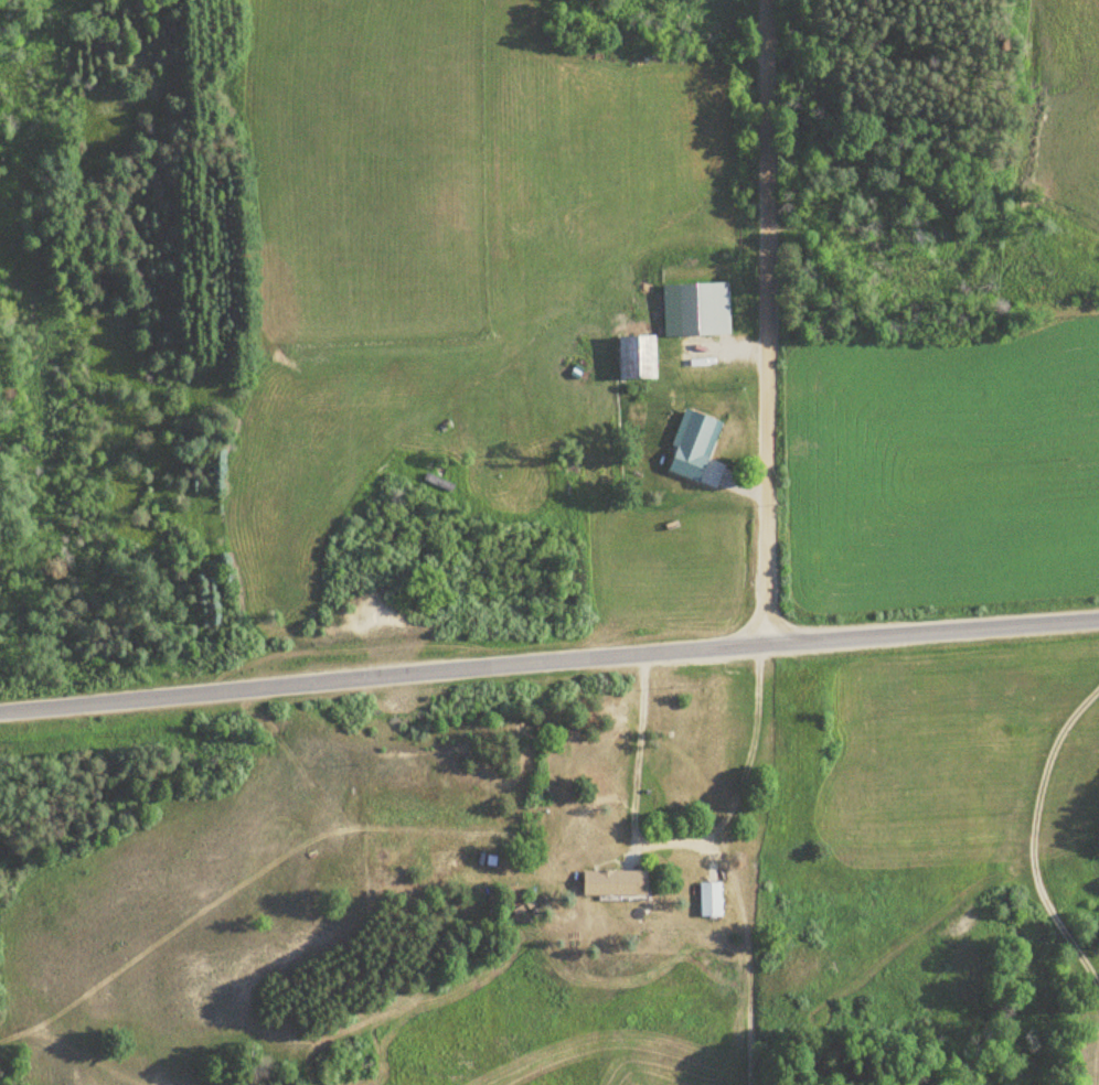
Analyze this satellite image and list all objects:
building: (698, 308)
road: (766, 321)
building: (631, 356)
building: (695, 429)
road: (548, 660)
building: (594, 883)
building: (705, 900)

